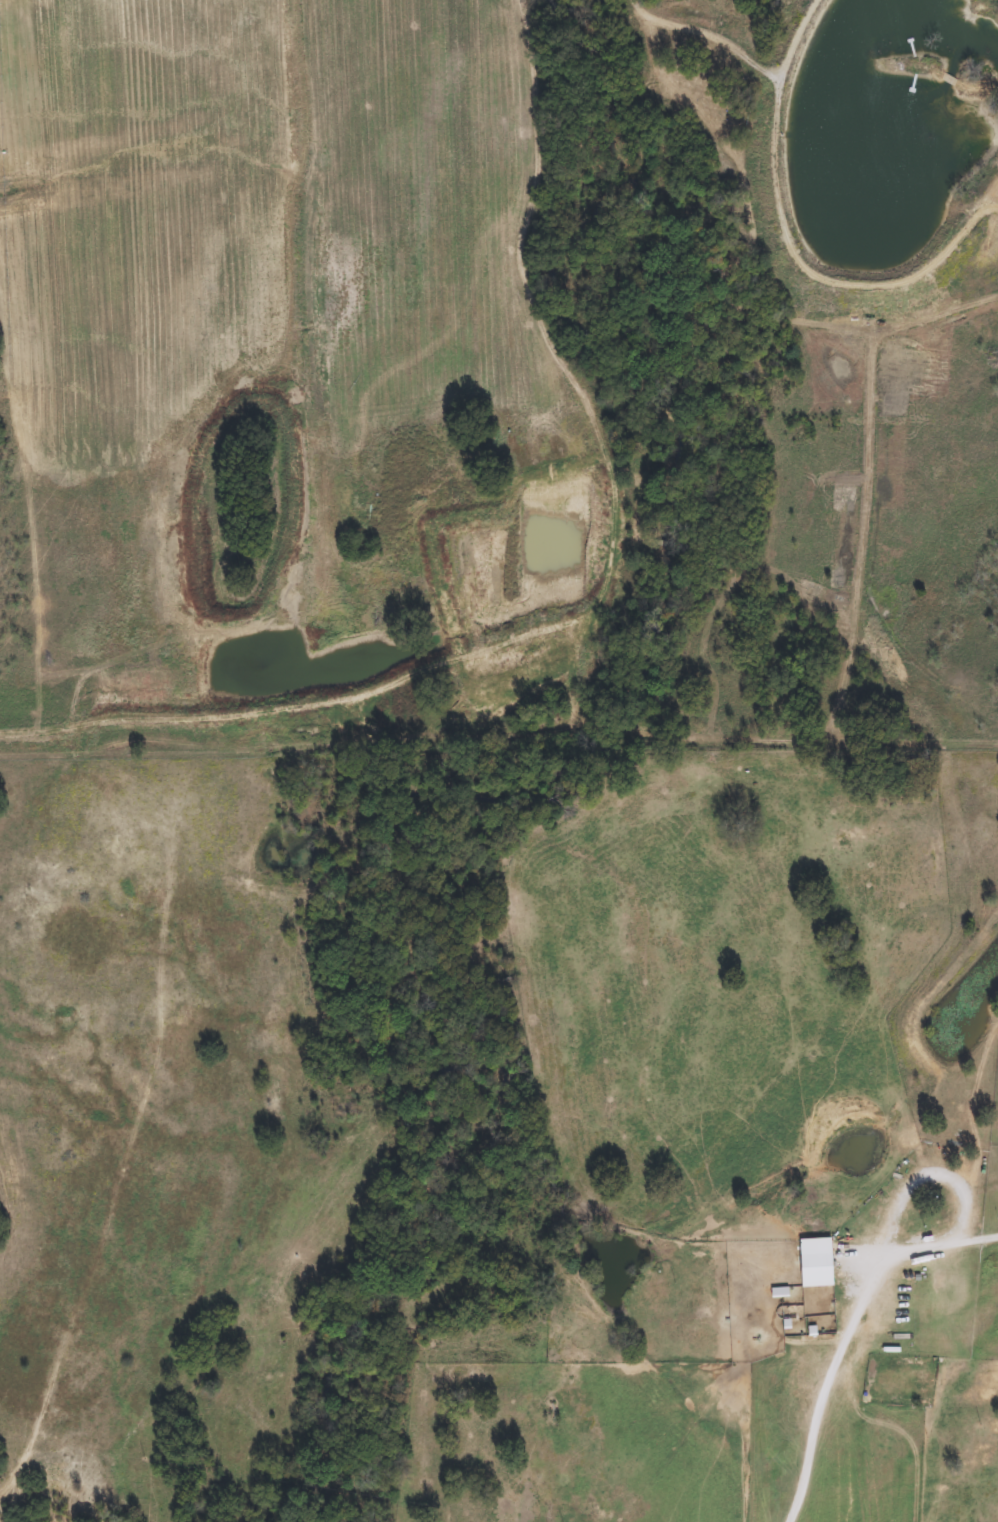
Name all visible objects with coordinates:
building: (814, 1262)
road: (855, 1339)

